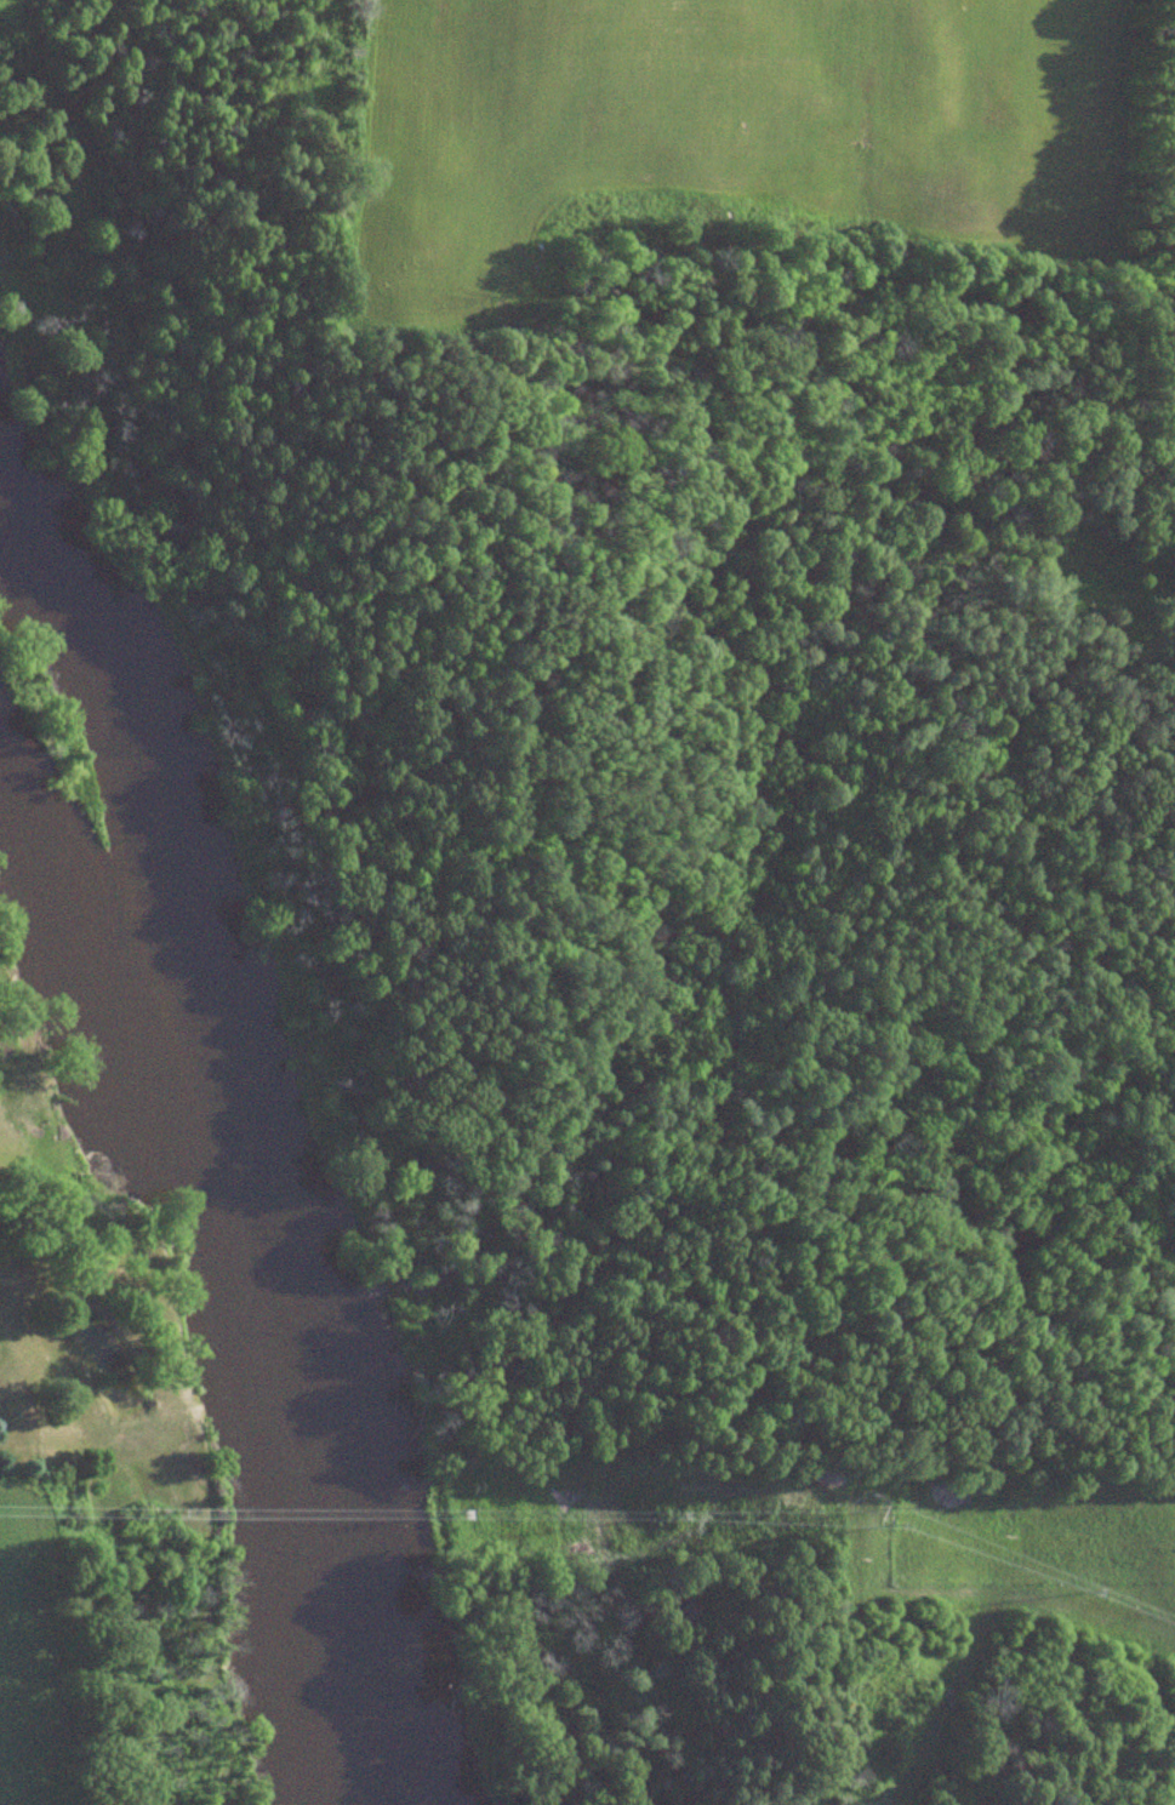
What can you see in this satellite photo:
river: (224, 1161)

